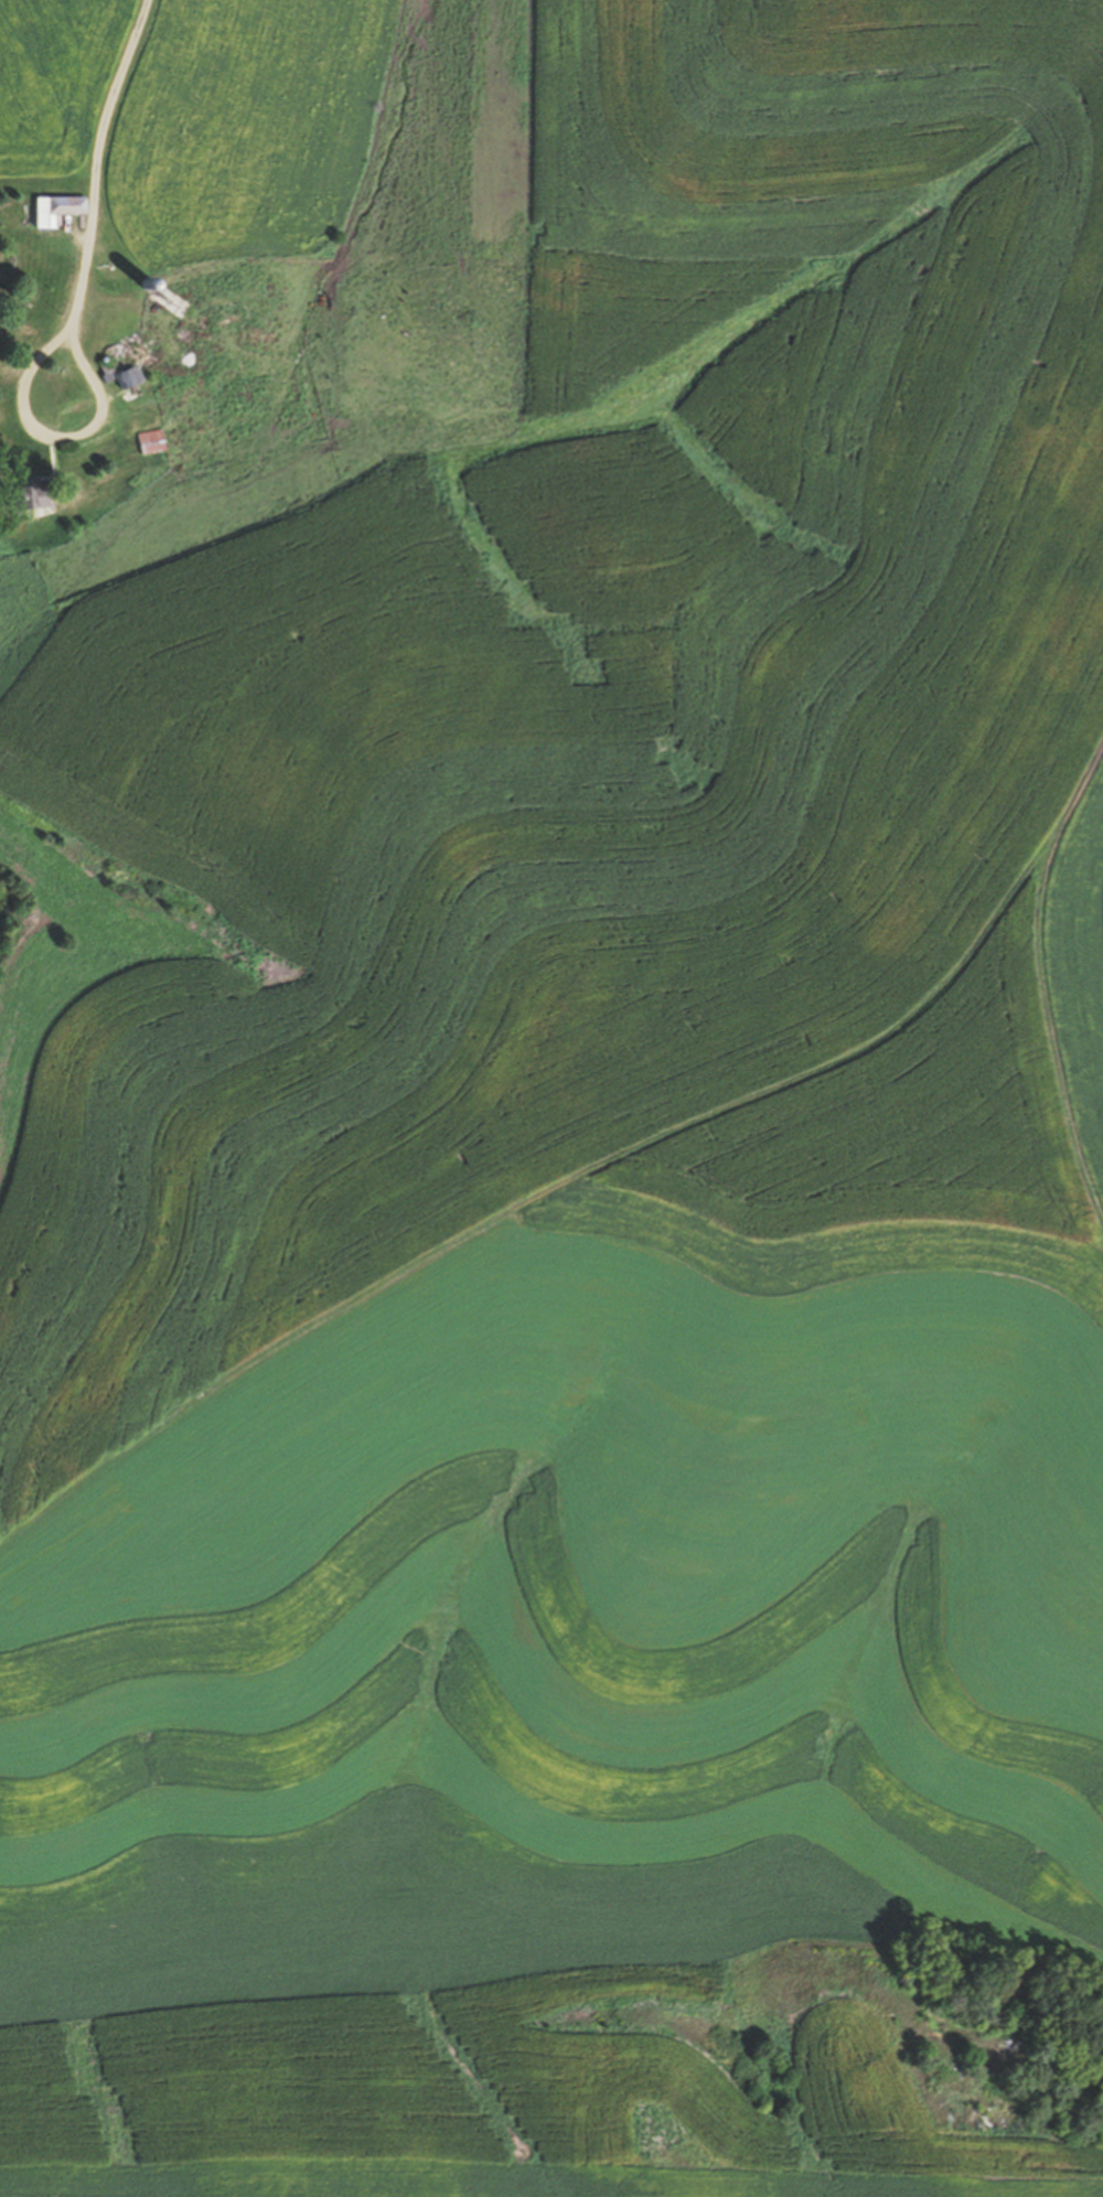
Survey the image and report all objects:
building: (58, 210)
building: (132, 358)
building: (153, 441)
building: (31, 496)

